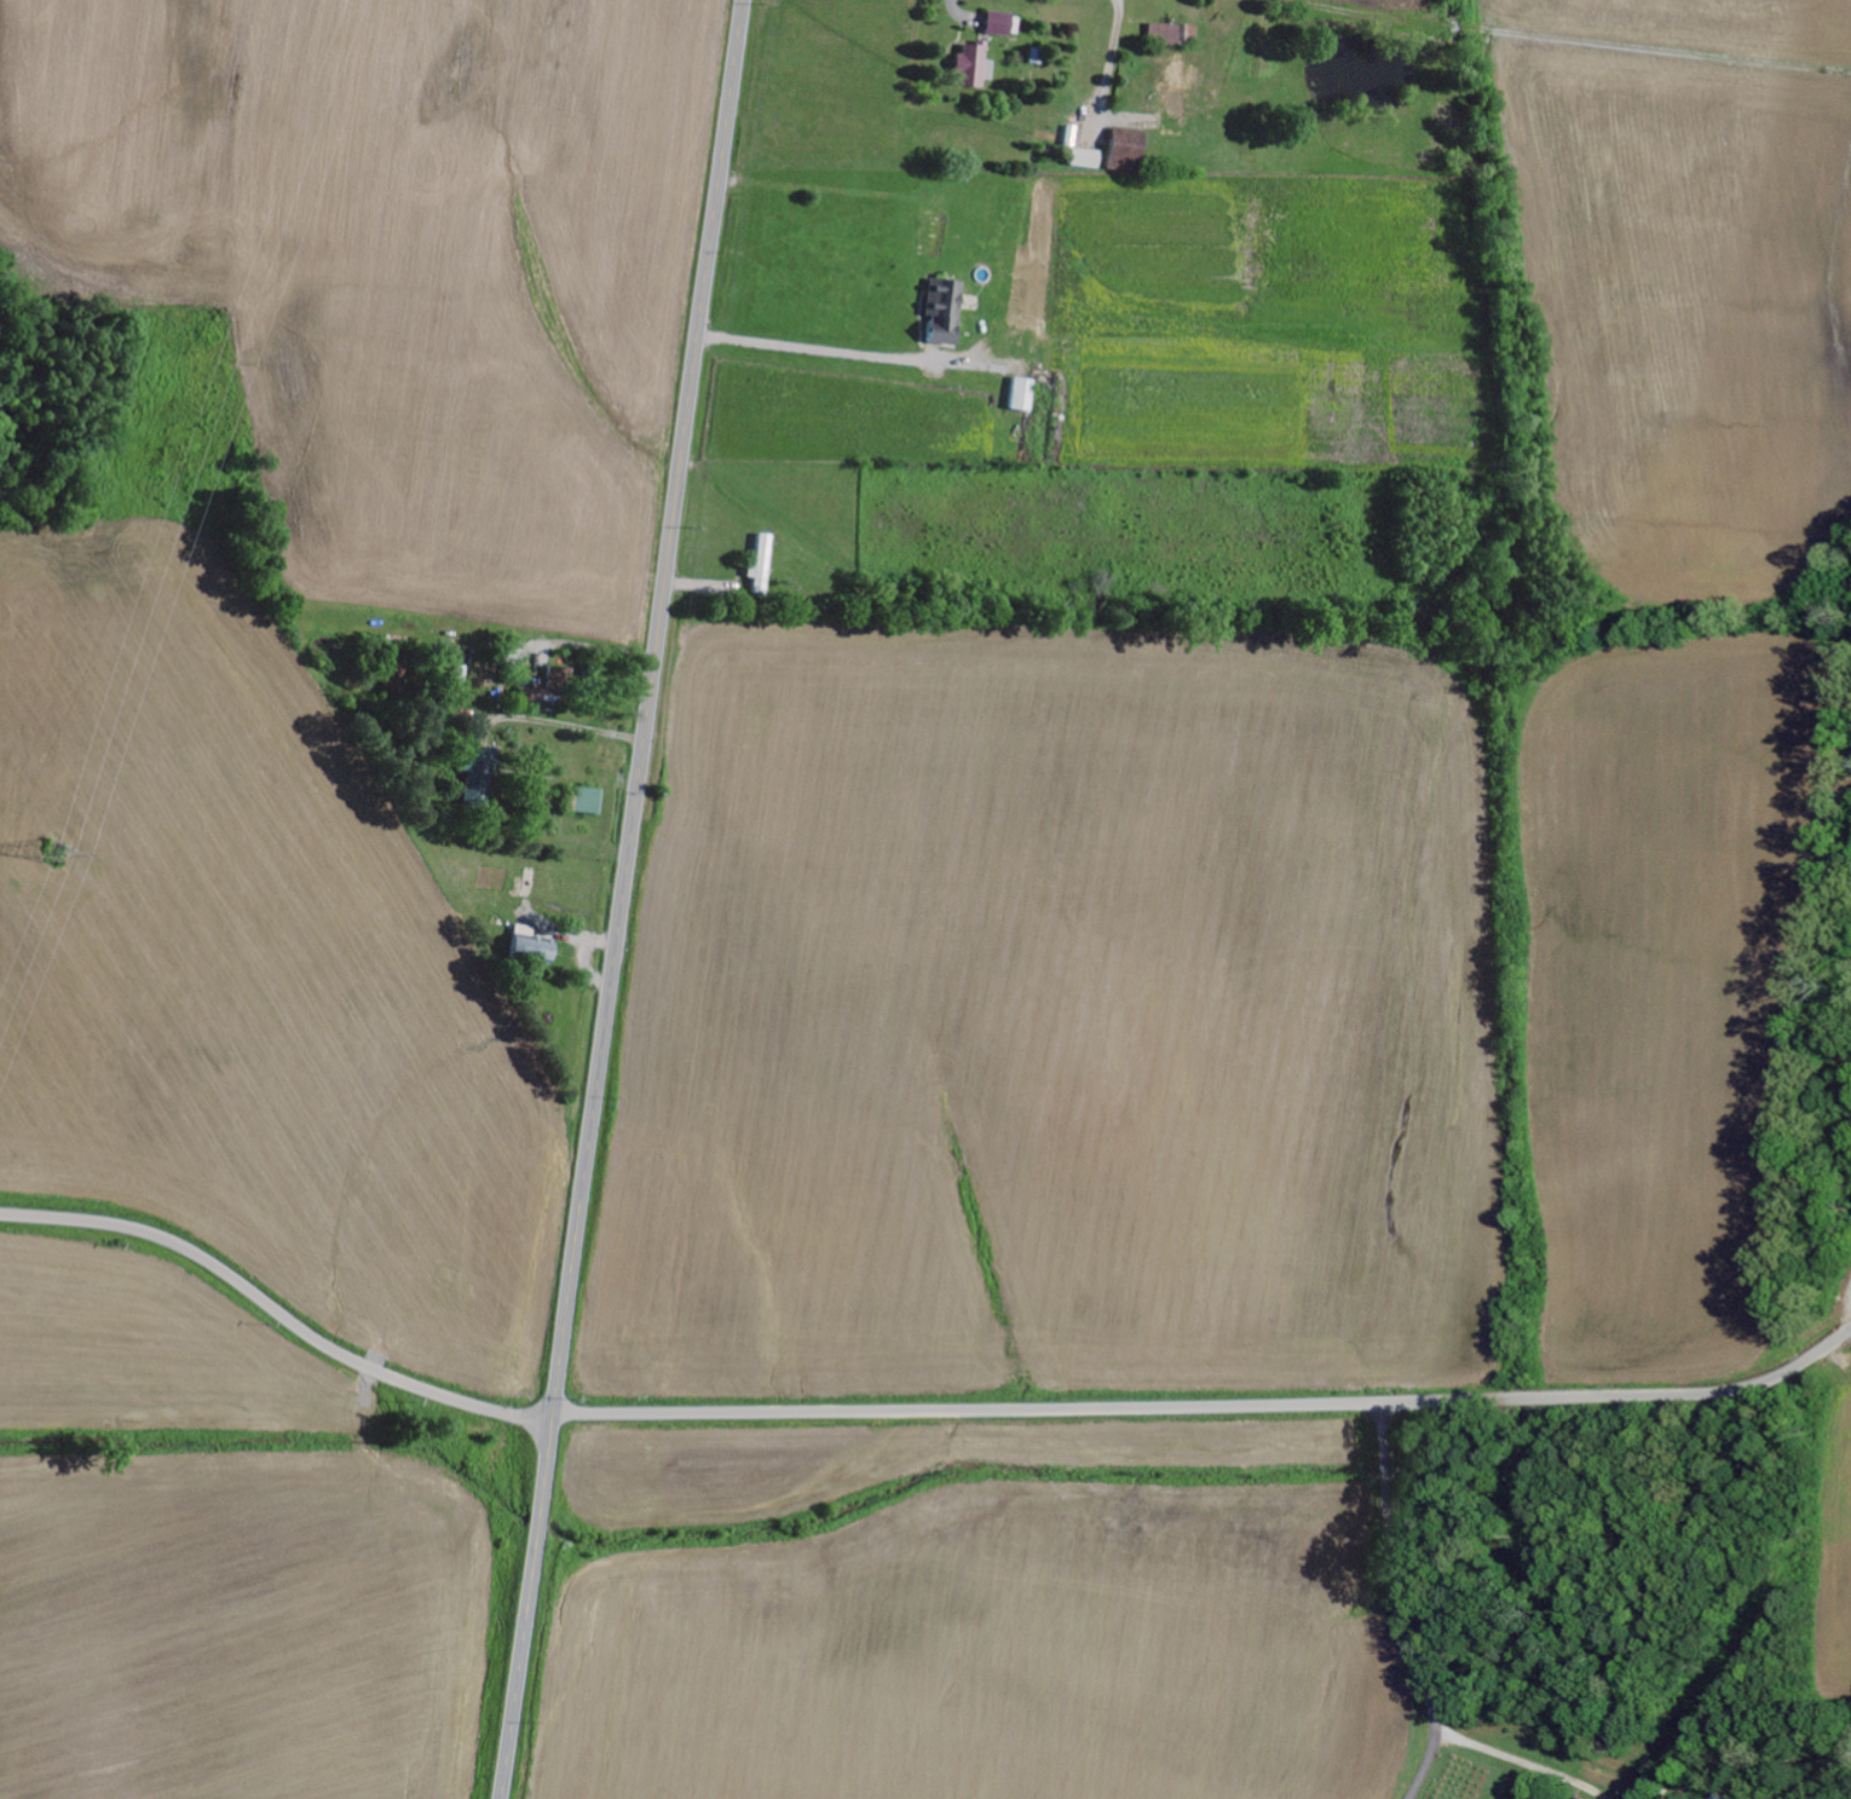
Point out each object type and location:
road: (1356, 8)
building: (999, 24)
building: (1164, 34)
building: (1180, 91)
building: (1128, 150)
building: (1086, 158)
building: (946, 310)
building: (1025, 396)
building: (763, 561)
building: (549, 687)
building: (479, 780)
power tower: (54, 849)
road: (624, 899)
building: (534, 948)
road: (277, 1307)
road: (1211, 1408)
road: (1406, 1605)
building: (1722, 1798)

